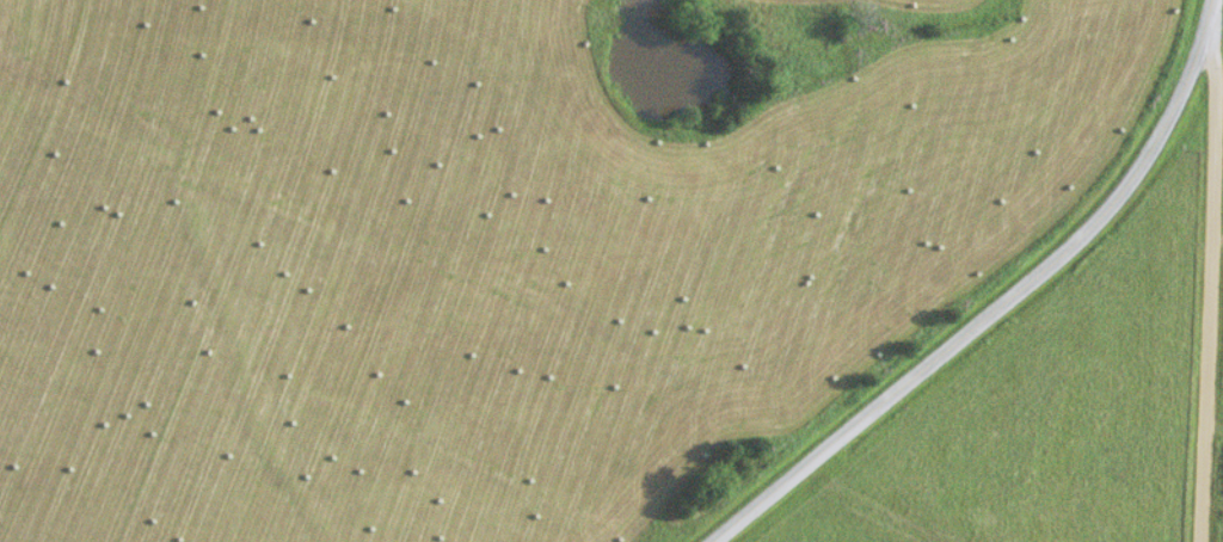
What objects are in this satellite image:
road: (1212, 281)
road: (1004, 302)

